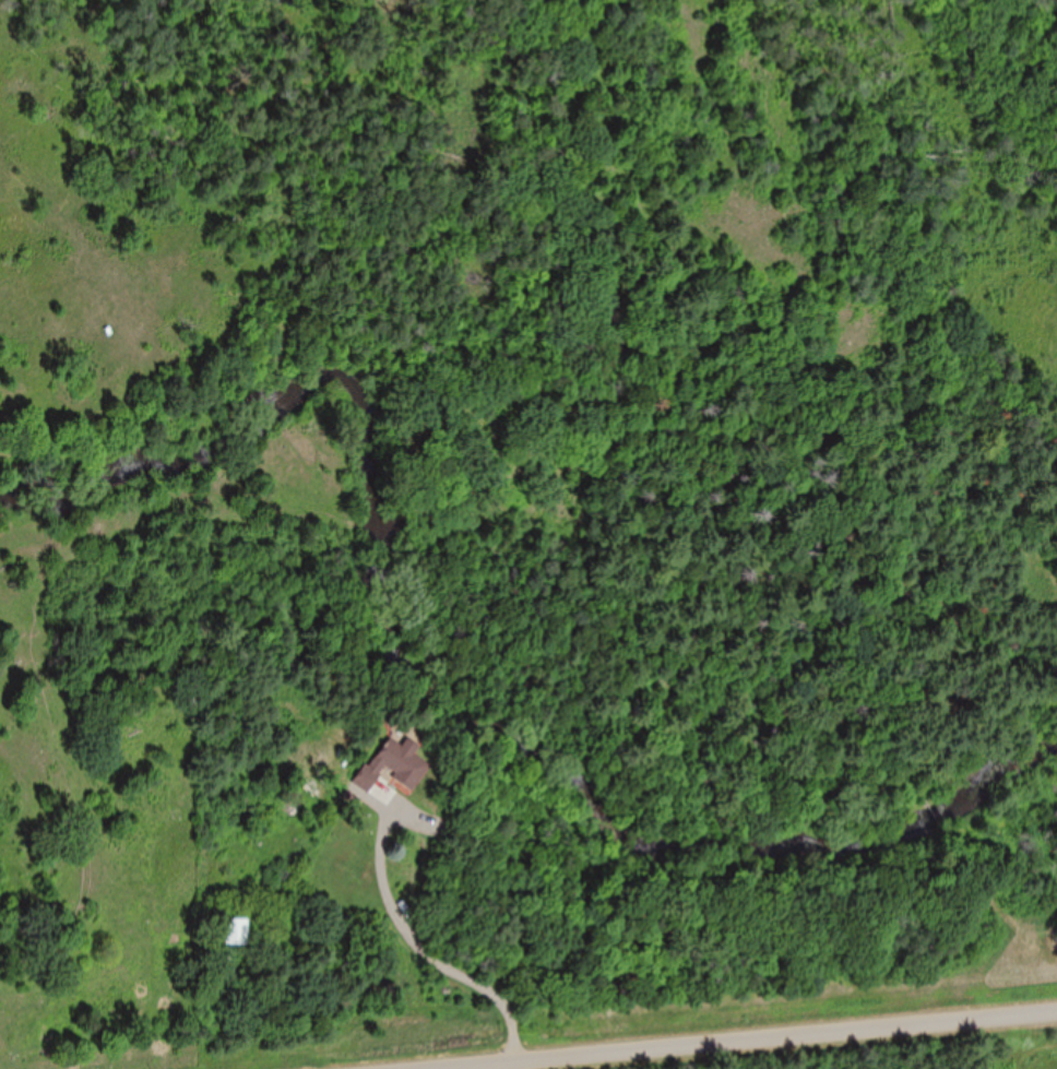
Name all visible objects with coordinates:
building: (391, 767)
road: (50, 892)
building: (237, 931)
road: (739, 1038)
road: (9, 1064)

